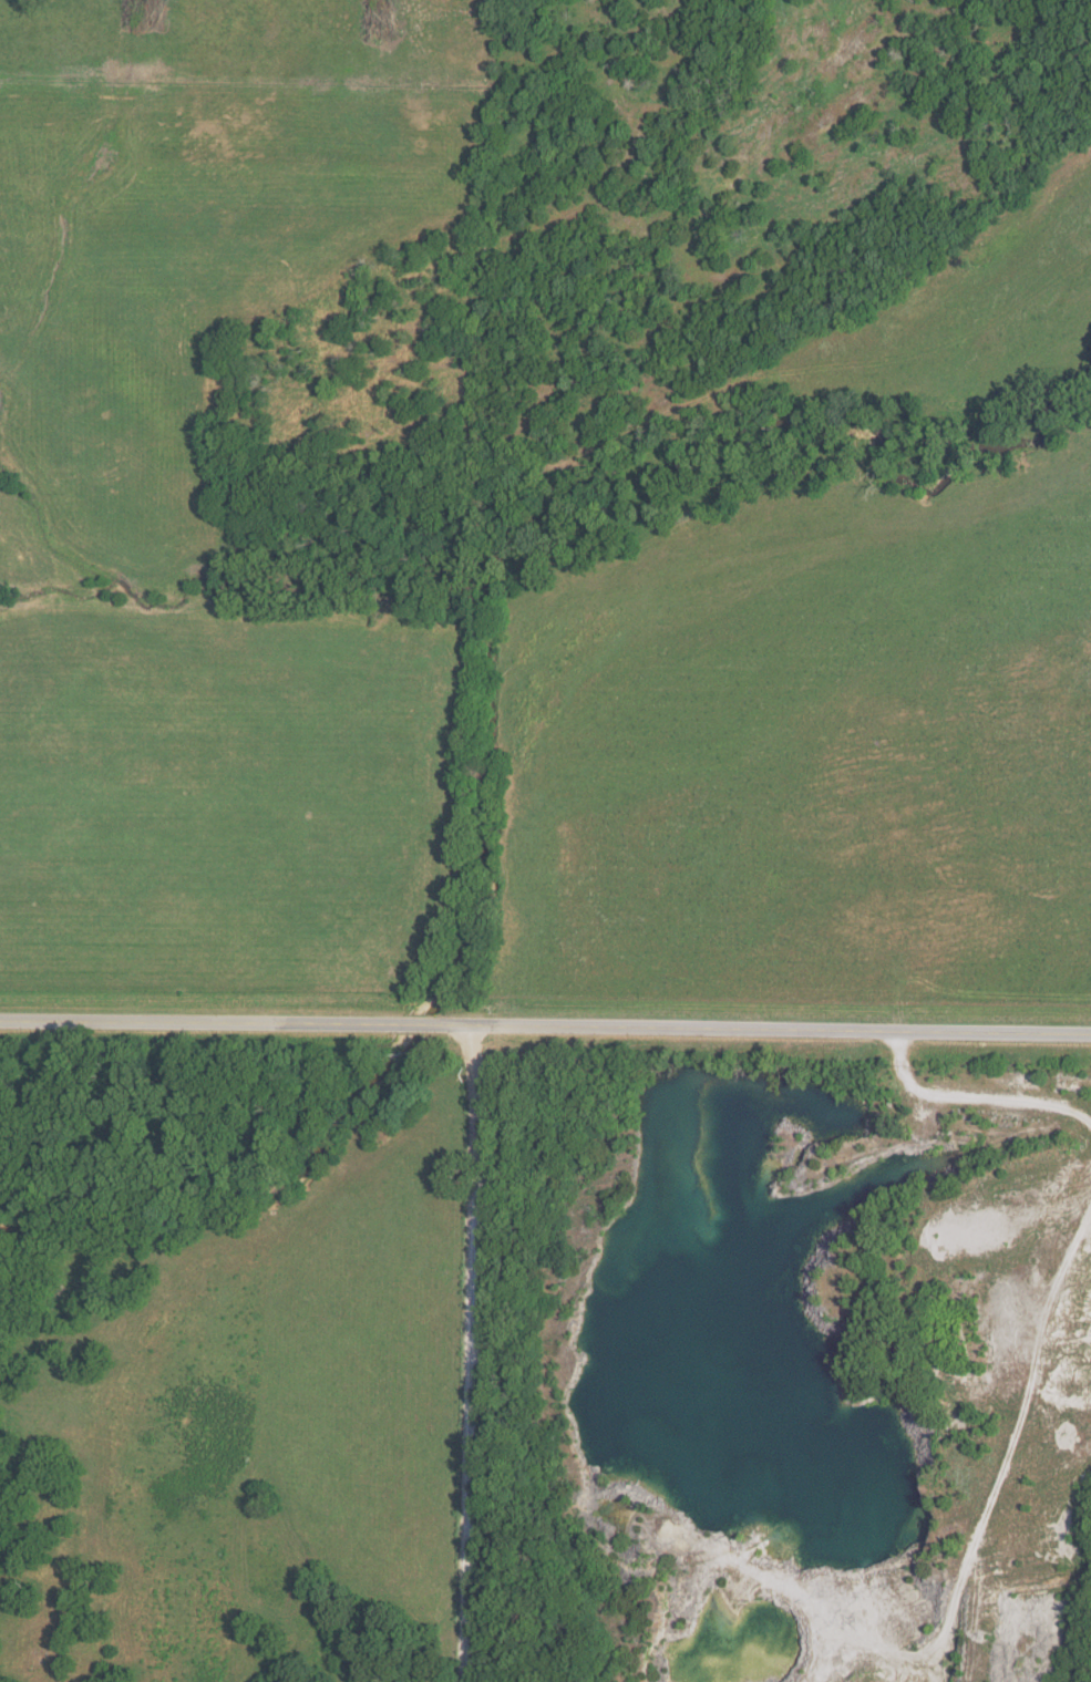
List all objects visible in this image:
road: (545, 1028)
road: (467, 1353)

